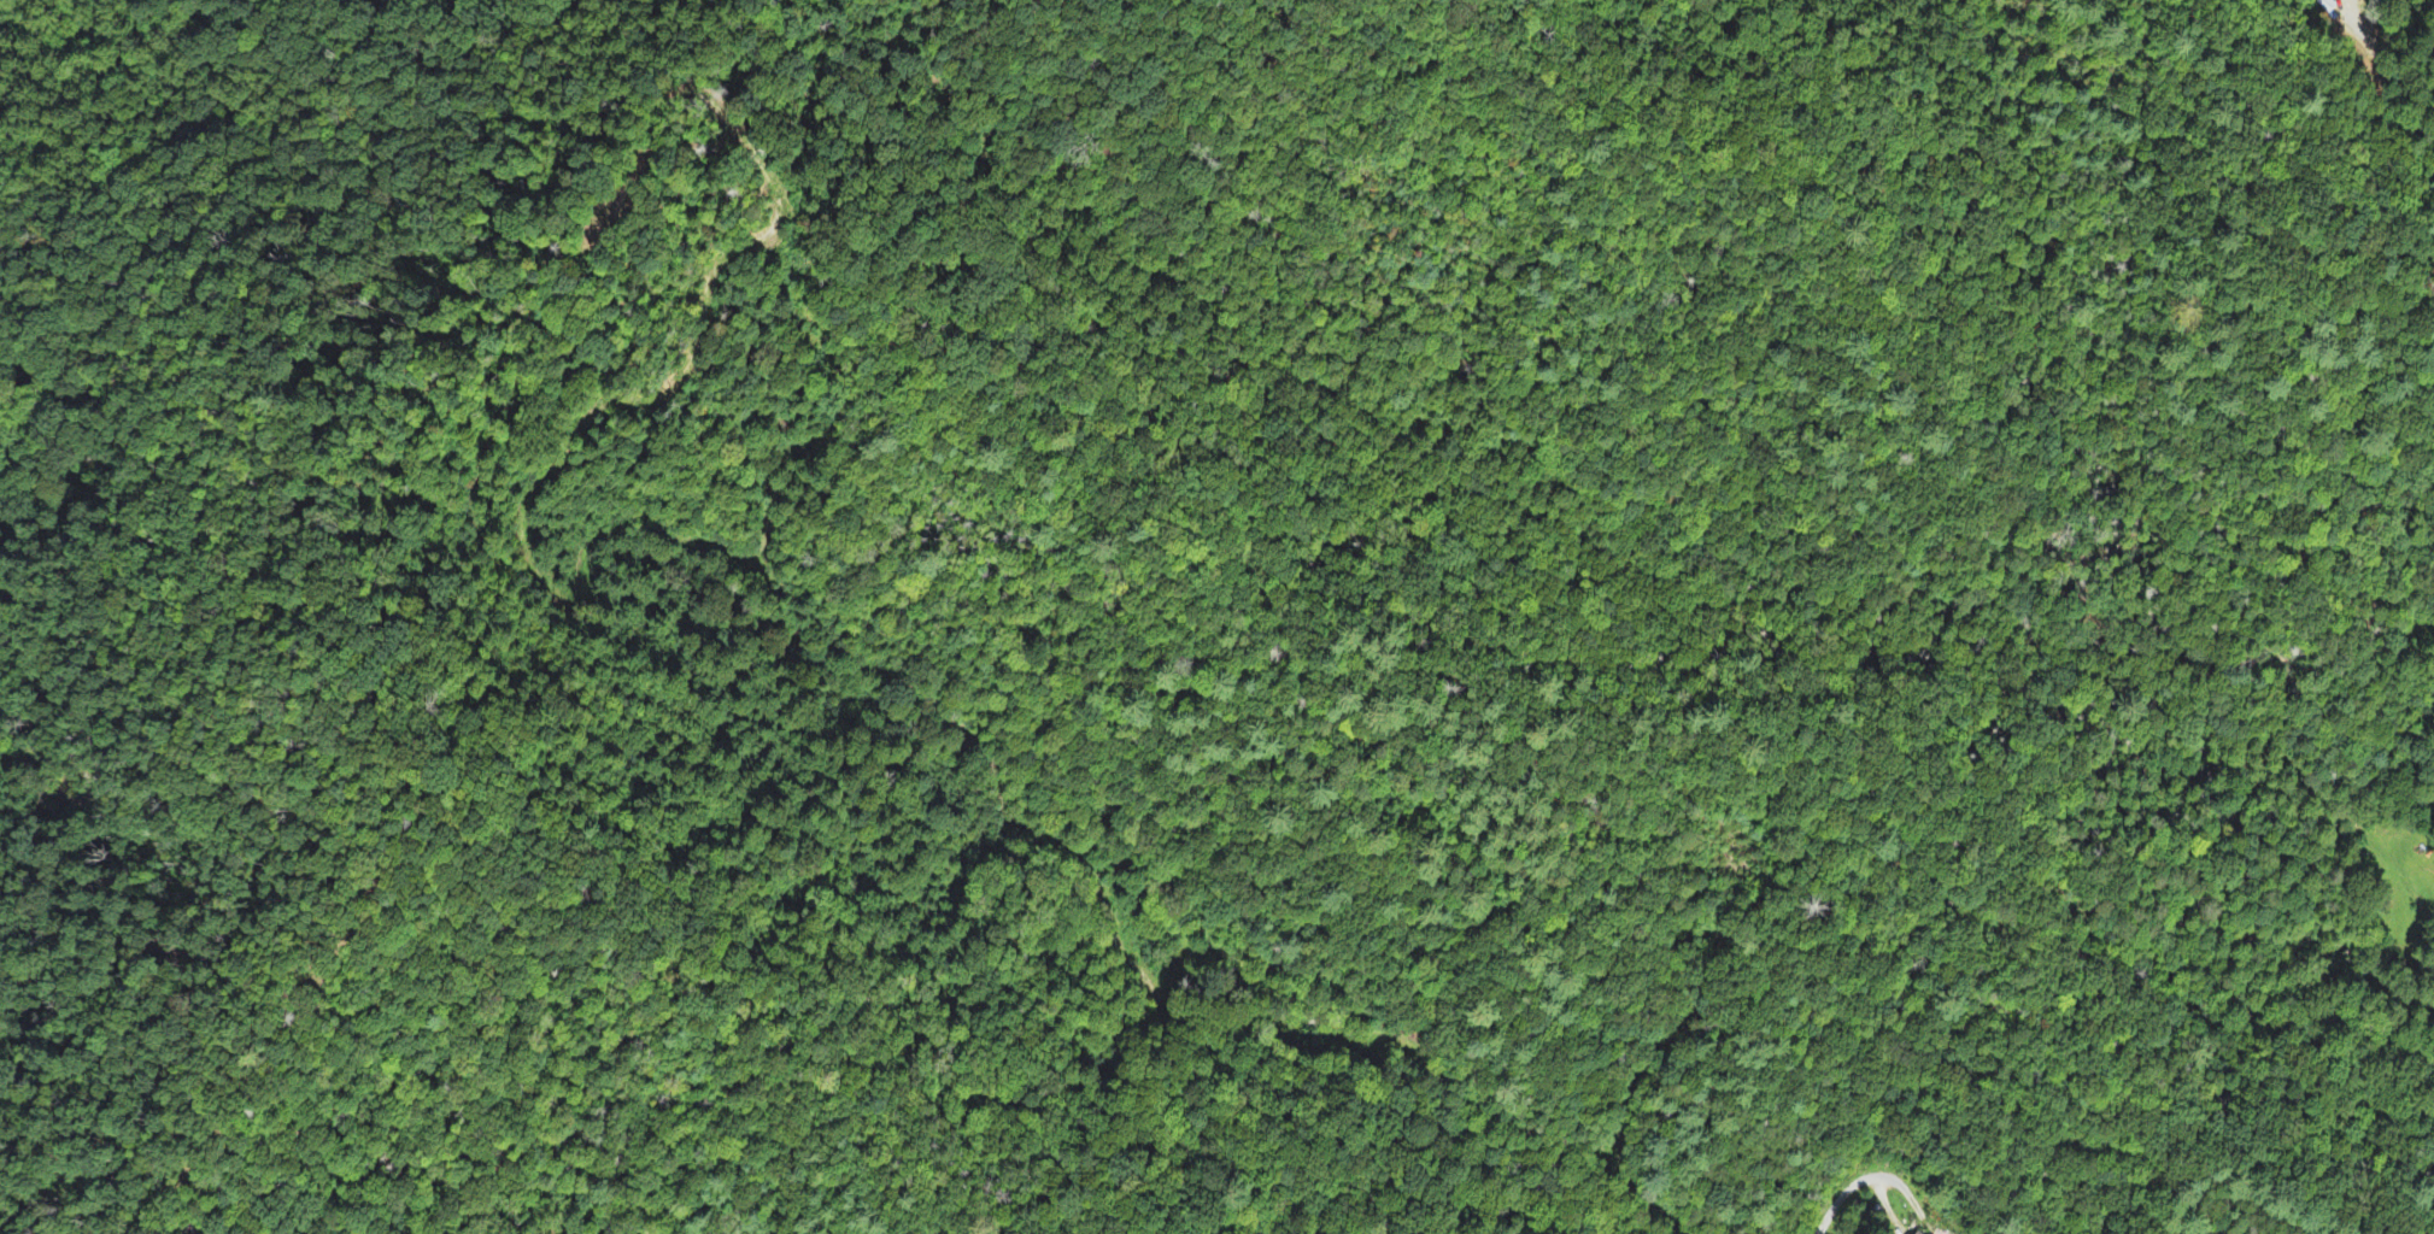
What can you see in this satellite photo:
building: (2339, 0)

